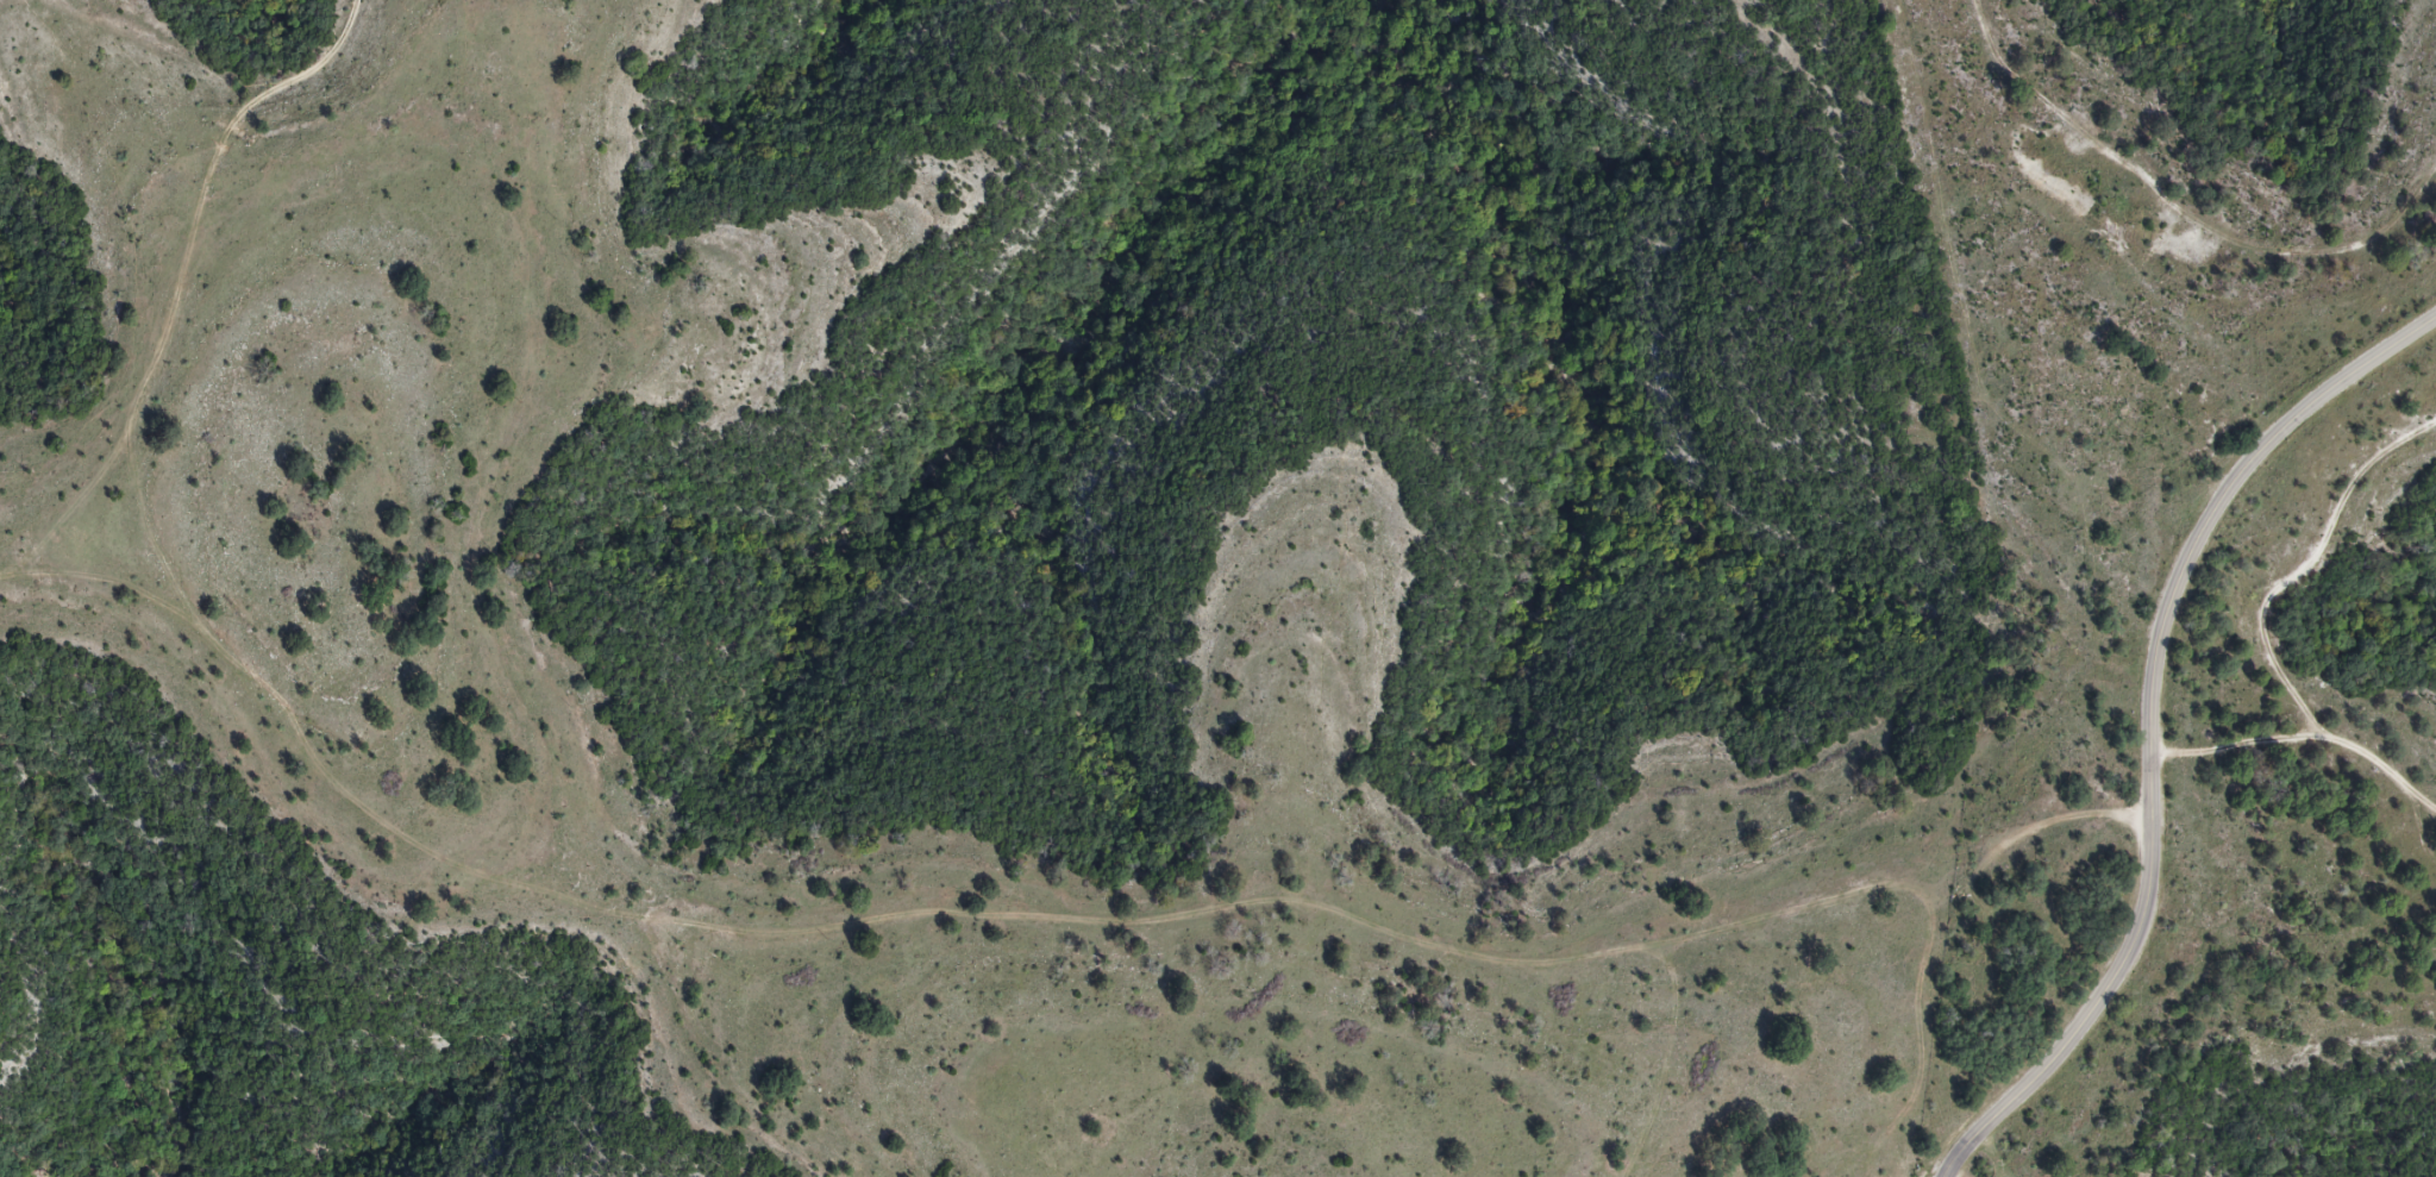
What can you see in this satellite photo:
road: (14, 572)
road: (2149, 703)
road: (1955, 1160)

